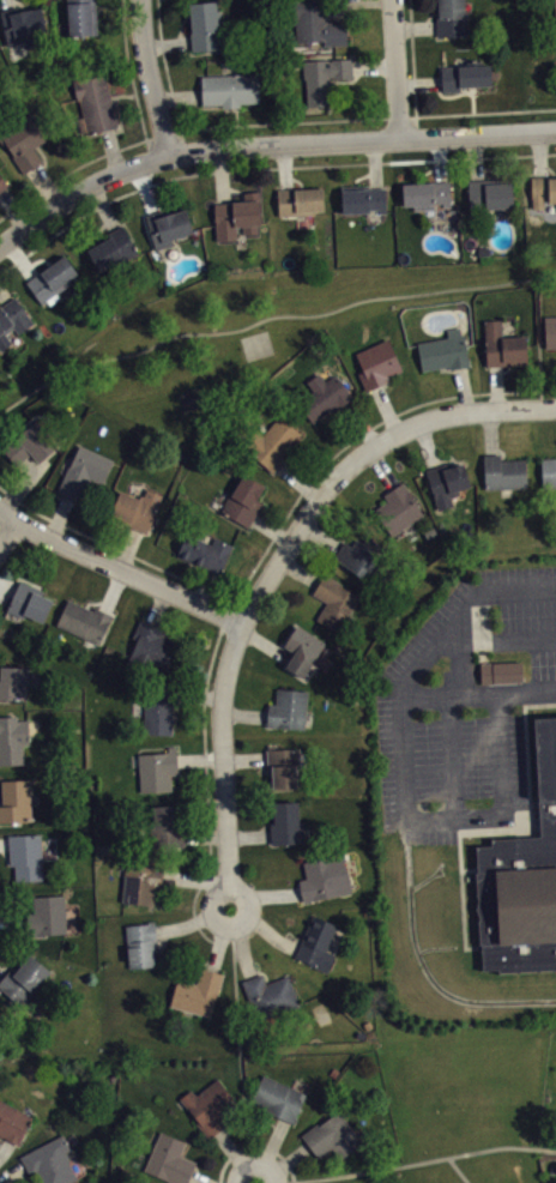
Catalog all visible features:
road: (338, 1)
building: (555, 2)
road: (6, 4)
building: (81, 16)
building: (451, 17)
building: (316, 22)
building: (204, 24)
building: (23, 25)
road: (415, 26)
road: (167, 43)
road: (412, 58)
road: (165, 65)
road: (374, 65)
road: (395, 68)
road: (129, 70)
building: (464, 74)
road: (151, 77)
building: (324, 78)
road: (418, 82)
building: (229, 87)
road: (177, 95)
building: (93, 103)
road: (482, 111)
road: (397, 116)
road: (279, 122)
road: (163, 132)
building: (25, 138)
road: (265, 144)
road: (111, 149)
road: (538, 153)
road: (473, 156)
road: (439, 158)
road: (374, 162)
road: (265, 165)
road: (284, 165)
road: (72, 168)
road: (220, 174)
building: (2, 182)
road: (46, 185)
road: (144, 188)
building: (543, 188)
building: (425, 193)
building: (488, 194)
building: (362, 198)
building: (300, 200)
road: (102, 205)
road: (12, 209)
building: (236, 215)
building: (167, 225)
building: (111, 248)
road: (20, 258)
building: (52, 278)
road: (4, 295)
road: (324, 313)
building: (12, 319)
building: (550, 331)
park: (249, 333)
building: (502, 345)
building: (442, 350)
building: (376, 363)
road: (495, 387)
road: (463, 388)
building: (322, 396)
road: (386, 409)
road: (361, 423)
road: (490, 431)
road: (351, 439)
building: (271, 442)
building: (29, 443)
road: (425, 443)
road: (359, 455)
road: (381, 469)
building: (84, 471)
building: (503, 472)
building: (548, 472)
road: (298, 481)
building: (446, 482)
road: (20, 484)
building: (243, 500)
building: (137, 508)
building: (397, 509)
road: (1, 513)
road: (58, 515)
road: (271, 529)
road: (7, 530)
road: (319, 537)
road: (114, 544)
road: (127, 547)
building: (205, 551)
building: (356, 556)
road: (119, 567)
road: (300, 569)
road: (203, 585)
road: (114, 590)
road: (6, 591)
building: (29, 600)
building: (334, 602)
road: (157, 605)
building: (84, 621)
road: (496, 640)
road: (264, 642)
building: (150, 647)
building: (302, 648)
road: (459, 668)
road: (407, 678)
building: (504, 680)
building: (13, 681)
road: (527, 689)
road: (495, 692)
road: (425, 694)
road: (199, 696)
parking lot: (464, 704)
building: (158, 708)
building: (288, 708)
road: (243, 712)
building: (13, 738)
road: (244, 758)
road: (199, 759)
road: (223, 762)
building: (283, 766)
building: (157, 769)
road: (205, 777)
building: (14, 799)
building: (285, 822)
building: (167, 825)
road: (247, 833)
road: (204, 835)
road: (4, 843)
building: (25, 856)
building: (324, 876)
building: (521, 876)
road: (200, 880)
building: (140, 882)
road: (264, 894)
building: (47, 915)
road: (193, 919)
road: (12, 923)
road: (264, 927)
road: (219, 936)
road: (241, 940)
building: (140, 943)
building: (318, 943)
road: (1, 976)
building: (23, 979)
building: (197, 992)
building: (268, 995)
road: (238, 1044)
building: (278, 1098)
building: (208, 1106)
park: (471, 1106)
building: (12, 1122)
building: (331, 1136)
road: (254, 1145)
road: (5, 1146)
road: (268, 1151)
road: (236, 1155)
building: (169, 1159)
building: (49, 1161)
road: (405, 1163)
road: (282, 1164)
road: (458, 1169)
road: (11, 1171)
road: (198, 1178)

